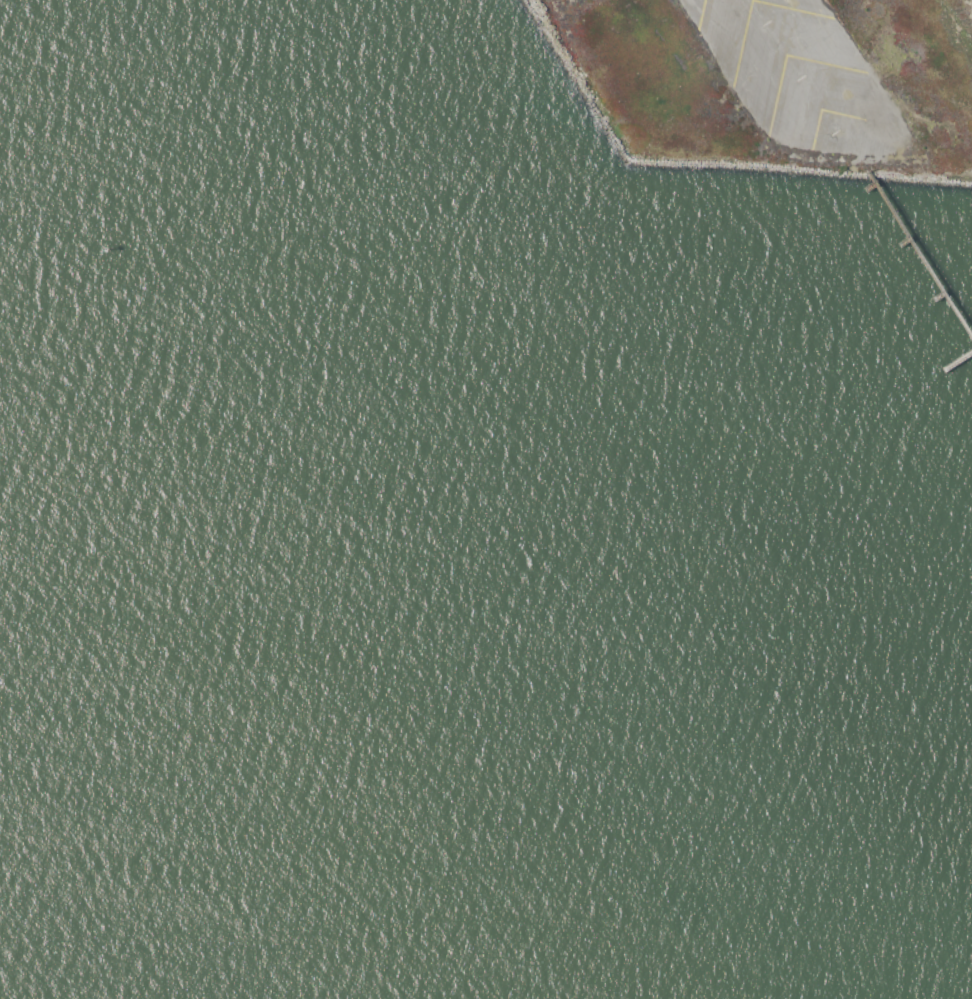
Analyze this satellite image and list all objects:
pier: (923, 259)
pier: (959, 363)

